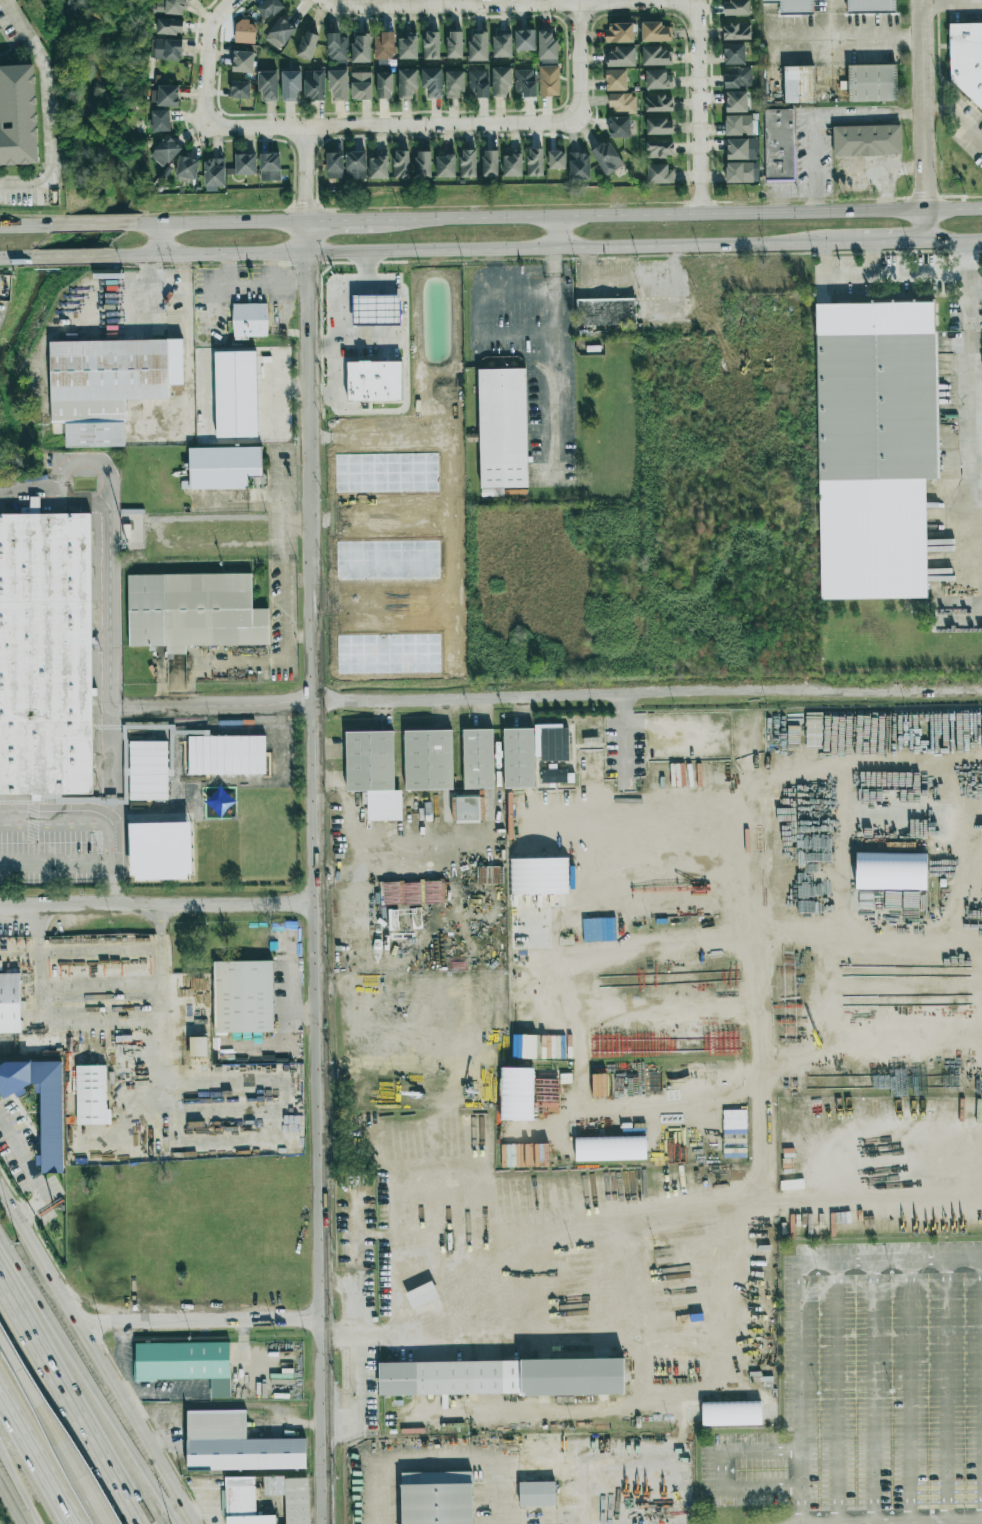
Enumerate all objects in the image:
road: (507, 4)
road: (953, 4)
building: (793, 6)
building: (736, 7)
building: (870, 7)
building: (269, 8)
building: (169, 26)
building: (736, 31)
building: (619, 32)
building: (655, 32)
building: (279, 33)
road: (854, 33)
building: (525, 40)
building: (454, 44)
building: (307, 45)
building: (408, 45)
building: (431, 45)
building: (547, 45)
building: (384, 46)
building: (478, 46)
building: (502, 46)
building: (337, 48)
building: (361, 48)
building: (165, 49)
building: (734, 54)
road: (211, 56)
building: (656, 56)
building: (621, 57)
building: (242, 61)
building: (966, 61)
road: (581, 62)
building: (737, 77)
building: (658, 79)
building: (615, 80)
building: (501, 81)
building: (549, 81)
building: (432, 82)
building: (525, 82)
building: (407, 83)
building: (872, 83)
building: (454, 84)
building: (478, 84)
building: (799, 84)
building: (268, 85)
building: (290, 85)
building: (314, 85)
building: (338, 85)
building: (384, 85)
building: (361, 86)
building: (240, 89)
building: (165, 95)
building: (736, 101)
building: (622, 102)
building: (658, 103)
road: (698, 106)
road: (49, 111)
building: (17, 115)
road: (820, 116)
road: (956, 119)
building: (161, 120)
road: (924, 121)
building: (738, 125)
road: (394, 126)
building: (659, 126)
building: (619, 127)
building: (866, 140)
building: (778, 144)
building: (659, 149)
building: (742, 149)
building: (165, 151)
building: (606, 158)
building: (556, 160)
building: (534, 162)
building: (467, 163)
building: (489, 163)
building: (245, 164)
building: (401, 164)
building: (423, 164)
building: (512, 164)
building: (334, 165)
building: (379, 165)
building: (445, 165)
building: (269, 166)
building: (355, 166)
building: (579, 166)
building: (187, 168)
road: (884, 170)
building: (741, 172)
building: (214, 174)
road: (307, 174)
building: (659, 174)
road: (677, 214)
road: (339, 221)
road: (220, 222)
road: (95, 224)
road: (8, 225)
road: (36, 225)
road: (8, 226)
road: (557, 232)
road: (163, 239)
road: (894, 242)
road: (954, 242)
road: (480, 249)
road: (64, 257)
road: (13, 258)
road: (147, 273)
road: (881, 275)
road: (138, 291)
road: (339, 299)
road: (522, 304)
building: (376, 310)
building: (606, 312)
building: (250, 321)
road: (404, 329)
road: (188, 355)
building: (374, 381)
road: (336, 383)
building: (108, 385)
road: (551, 387)
building: (235, 394)
road: (971, 404)
building: (502, 429)
building: (874, 445)
building: (222, 467)
road: (285, 476)
road: (299, 525)
road: (285, 552)
road: (108, 590)
road: (286, 608)
building: (194, 611)
building: (45, 652)
road: (649, 691)
road: (234, 704)
road: (130, 707)
building: (551, 742)
building: (226, 755)
building: (518, 758)
building: (478, 759)
building: (428, 760)
building: (147, 770)
building: (373, 773)
building: (553, 776)
road: (939, 777)
building: (466, 808)
road: (418, 813)
road: (57, 823)
road: (249, 830)
building: (160, 851)
road: (546, 853)
road: (113, 864)
road: (159, 870)
building: (886, 871)
road: (317, 872)
road: (430, 872)
building: (538, 876)
road: (760, 890)
building: (412, 892)
road: (158, 904)
building: (242, 997)
building: (10, 1003)
road: (102, 1023)
road: (868, 1027)
building: (198, 1047)
road: (867, 1088)
building: (516, 1094)
building: (91, 1095)
road: (628, 1105)
building: (51, 1125)
road: (764, 1146)
building: (610, 1148)
road: (850, 1197)
road: (350, 1301)
road: (800, 1304)
road: (224, 1321)
road: (103, 1324)
road: (596, 1334)
road: (3, 1347)
road: (97, 1352)
building: (186, 1363)
building: (501, 1377)
building: (239, 1380)
road: (91, 1390)
road: (358, 1390)
road: (981, 1390)
road: (75, 1391)
road: (945, 1391)
road: (835, 1392)
parking lot: (863, 1392)
road: (872, 1392)
road: (909, 1392)
building: (731, 1413)
road: (55, 1438)
building: (236, 1444)
road: (35, 1460)
road: (439, 1461)
road: (722, 1469)
road: (18, 1486)
building: (536, 1493)
building: (291, 1497)
building: (436, 1497)
road: (208, 1500)
road: (11, 1502)
building: (241, 1502)
road: (945, 1521)

